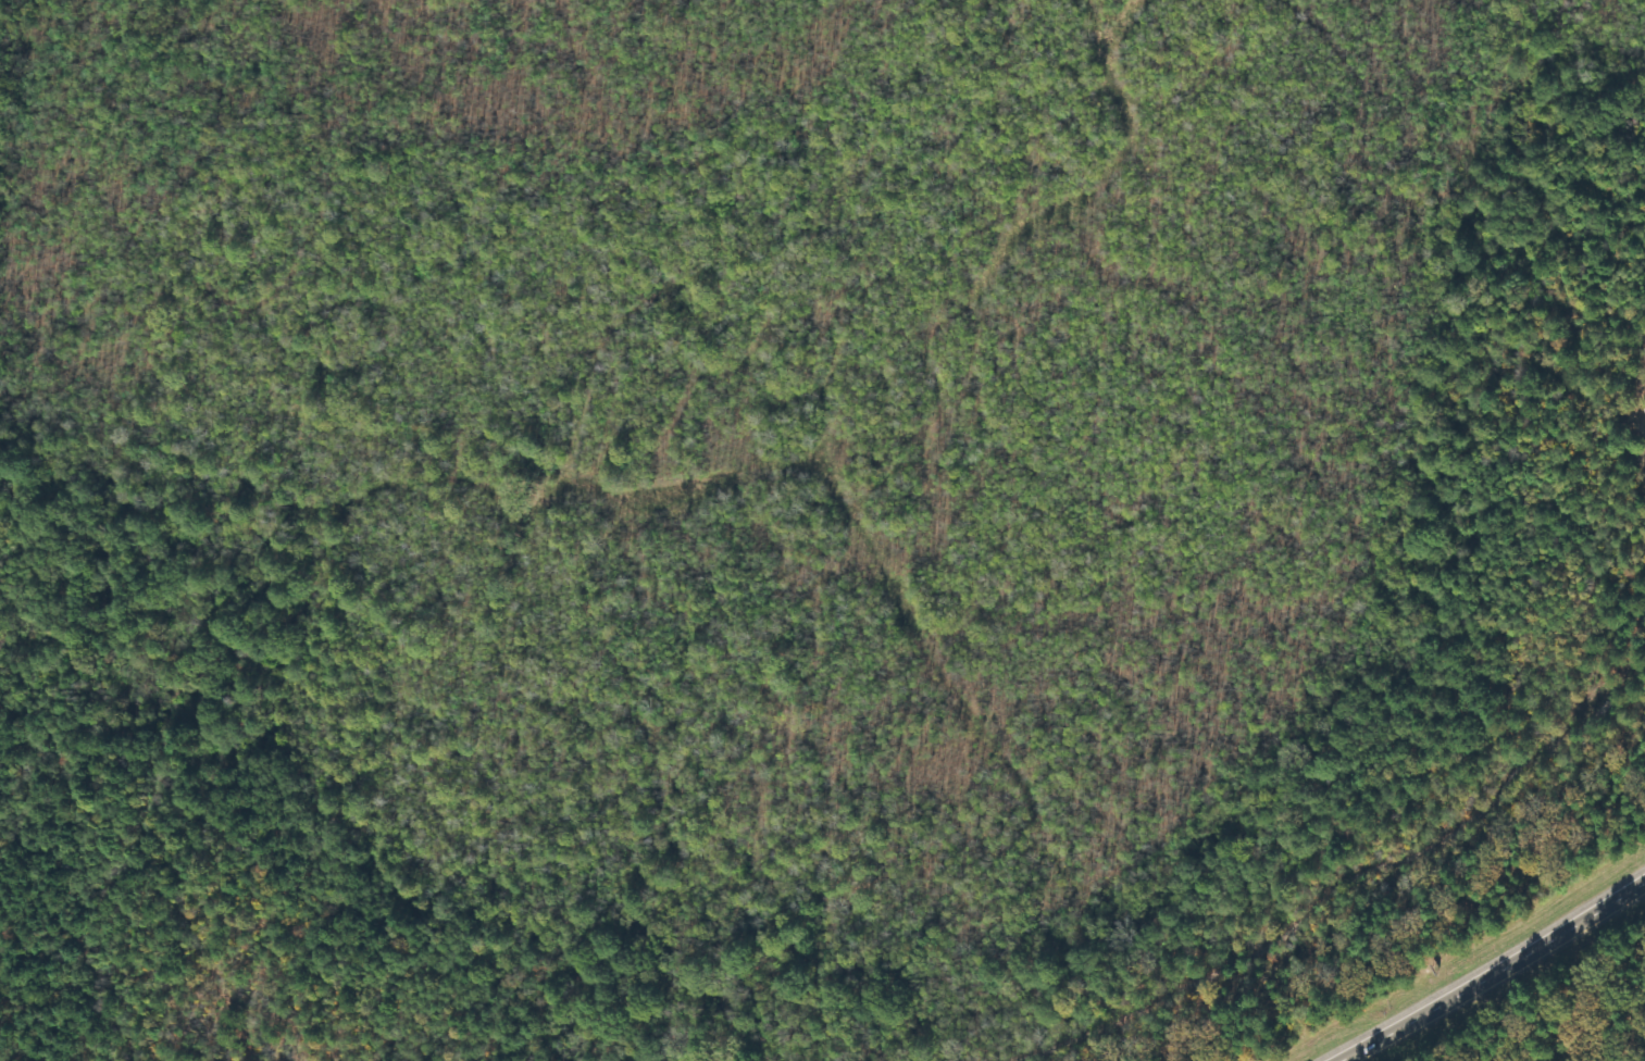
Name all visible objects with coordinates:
road: (1493, 971)

